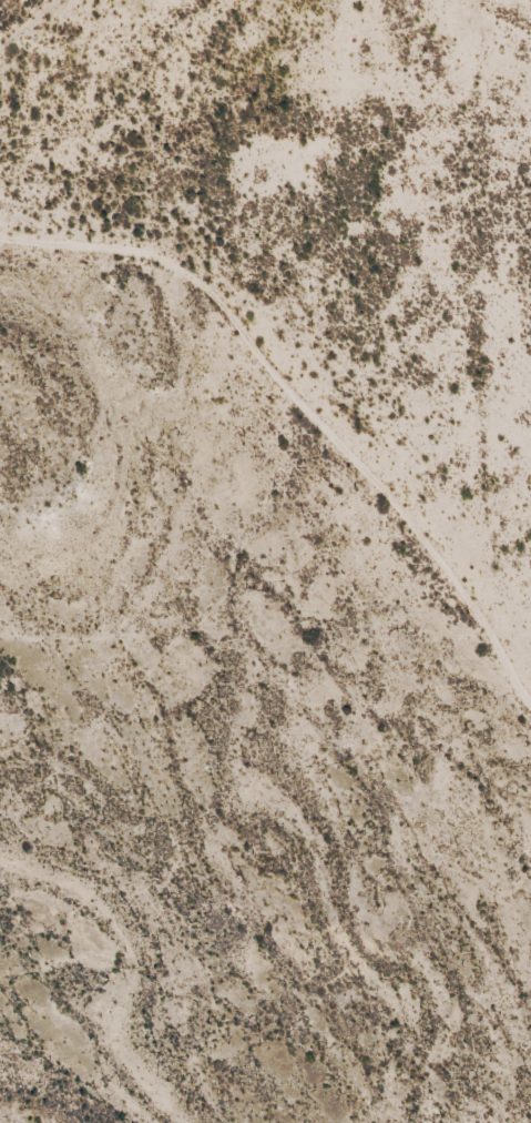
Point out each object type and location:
road: (39, 28)
road: (504, 299)
road: (295, 342)

